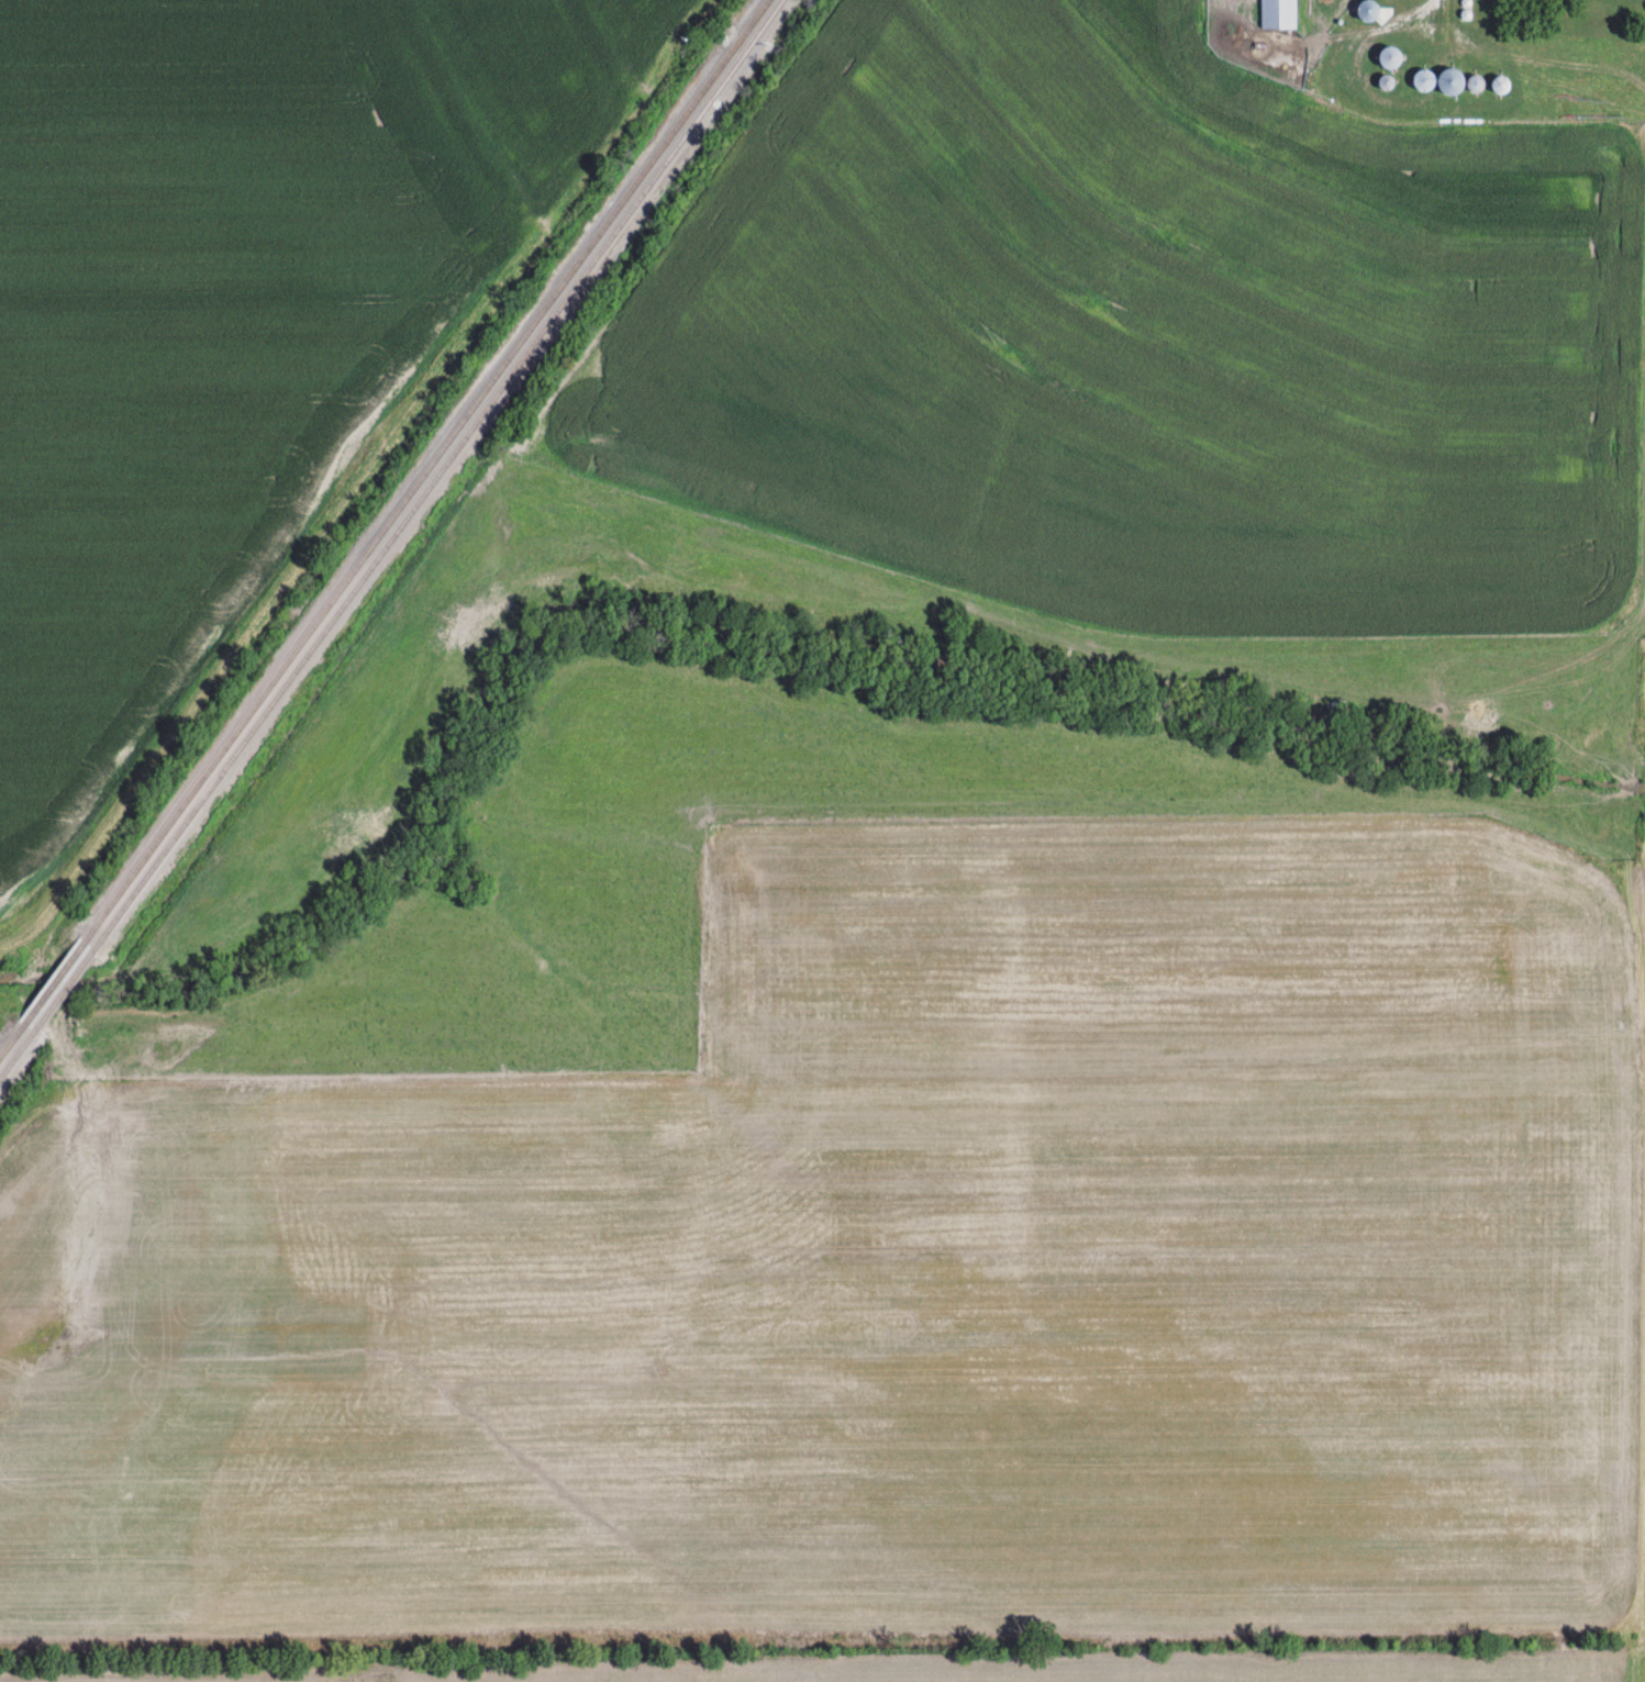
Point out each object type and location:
building: (1368, 10)
building: (1277, 13)
building: (1391, 57)
building: (1424, 79)
building: (1459, 82)
building: (1501, 85)
railway: (384, 527)
railway: (390, 538)
road: (1630, 955)

